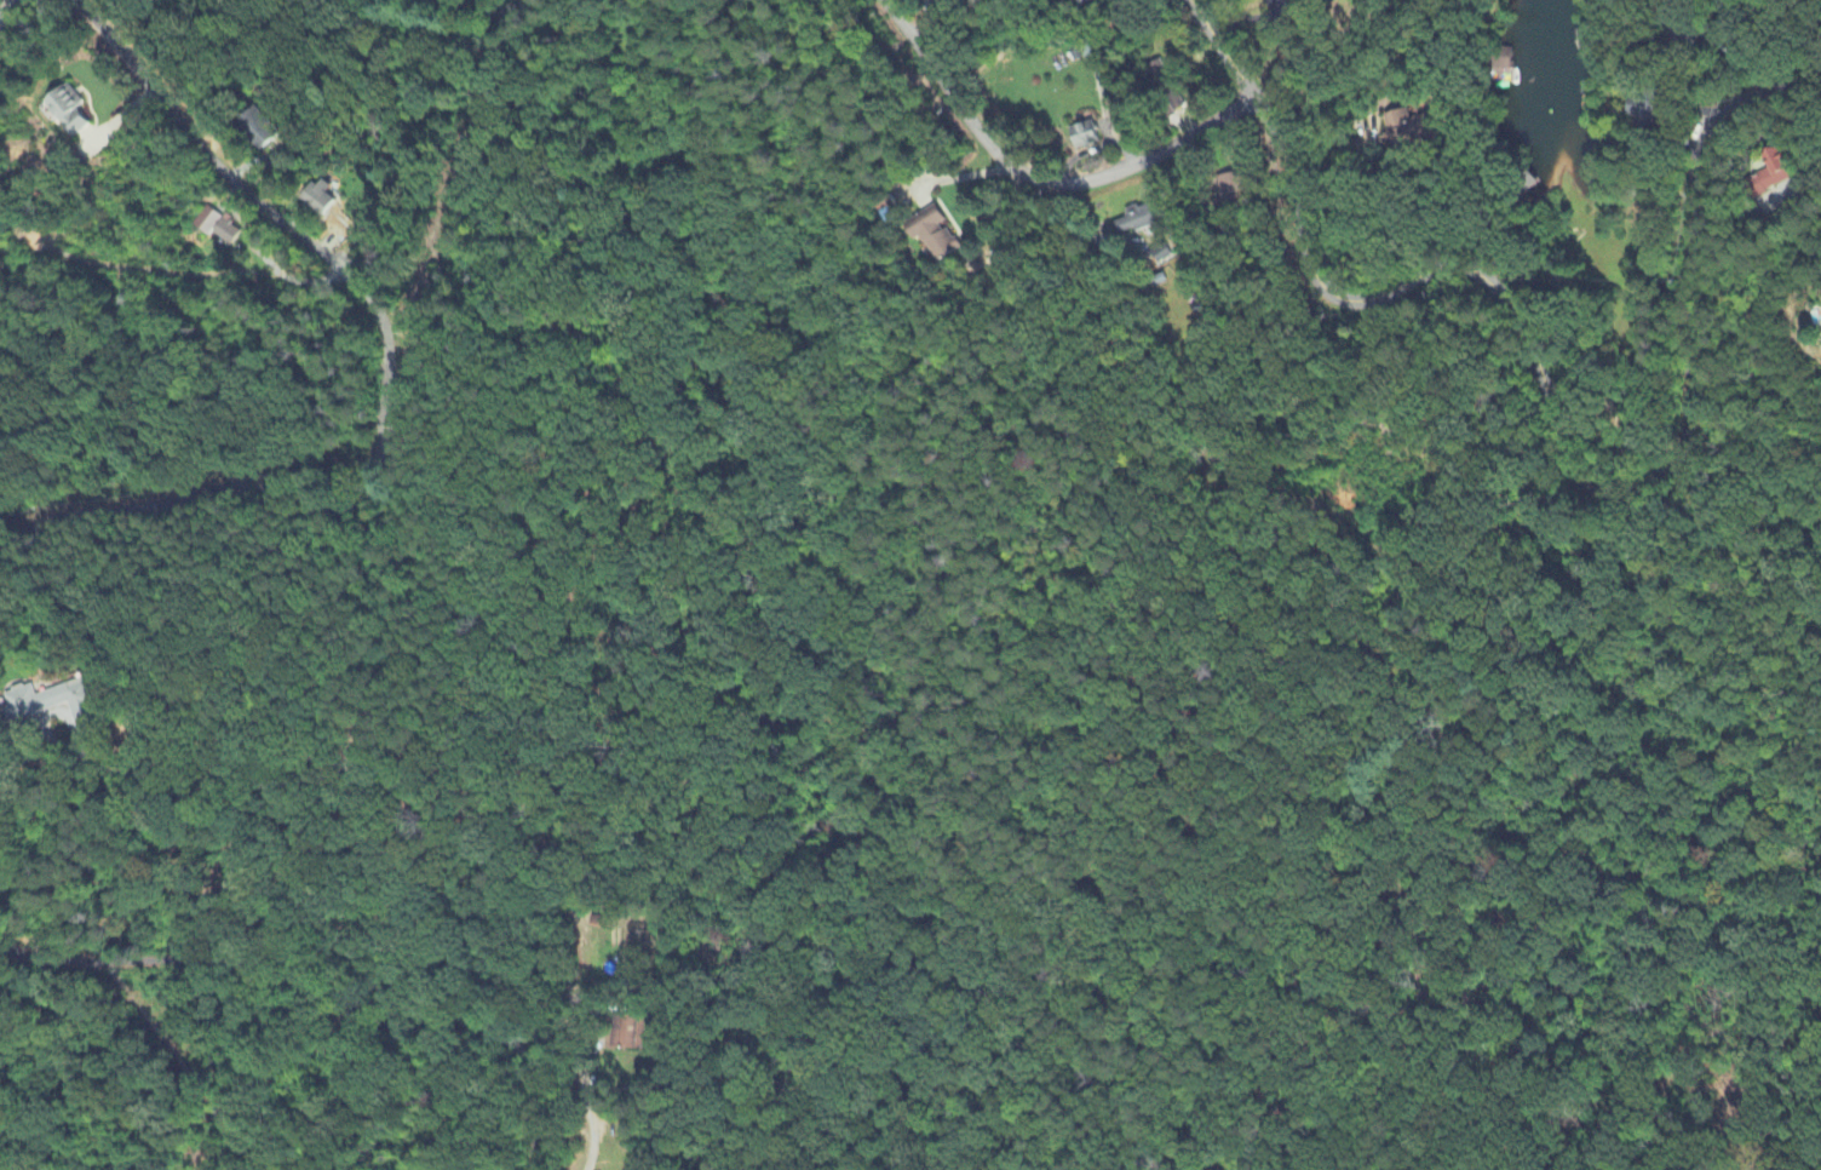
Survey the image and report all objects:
road: (2, 7)
road: (483, 11)
road: (1289, 48)
building: (1161, 76)
building: (74, 113)
building: (1642, 113)
building: (1404, 127)
road: (1771, 127)
building: (1082, 137)
building: (1777, 171)
road: (1038, 179)
building: (323, 201)
building: (1134, 222)
building: (209, 223)
building: (229, 233)
building: (934, 236)
building: (1156, 254)
road: (196, 270)
road: (395, 380)
road: (1552, 405)
road: (571, 425)
road: (1404, 584)
building: (50, 704)
road: (346, 761)
road: (321, 992)
road: (588, 1013)
building: (627, 1034)
road: (269, 1082)
road: (588, 1119)

